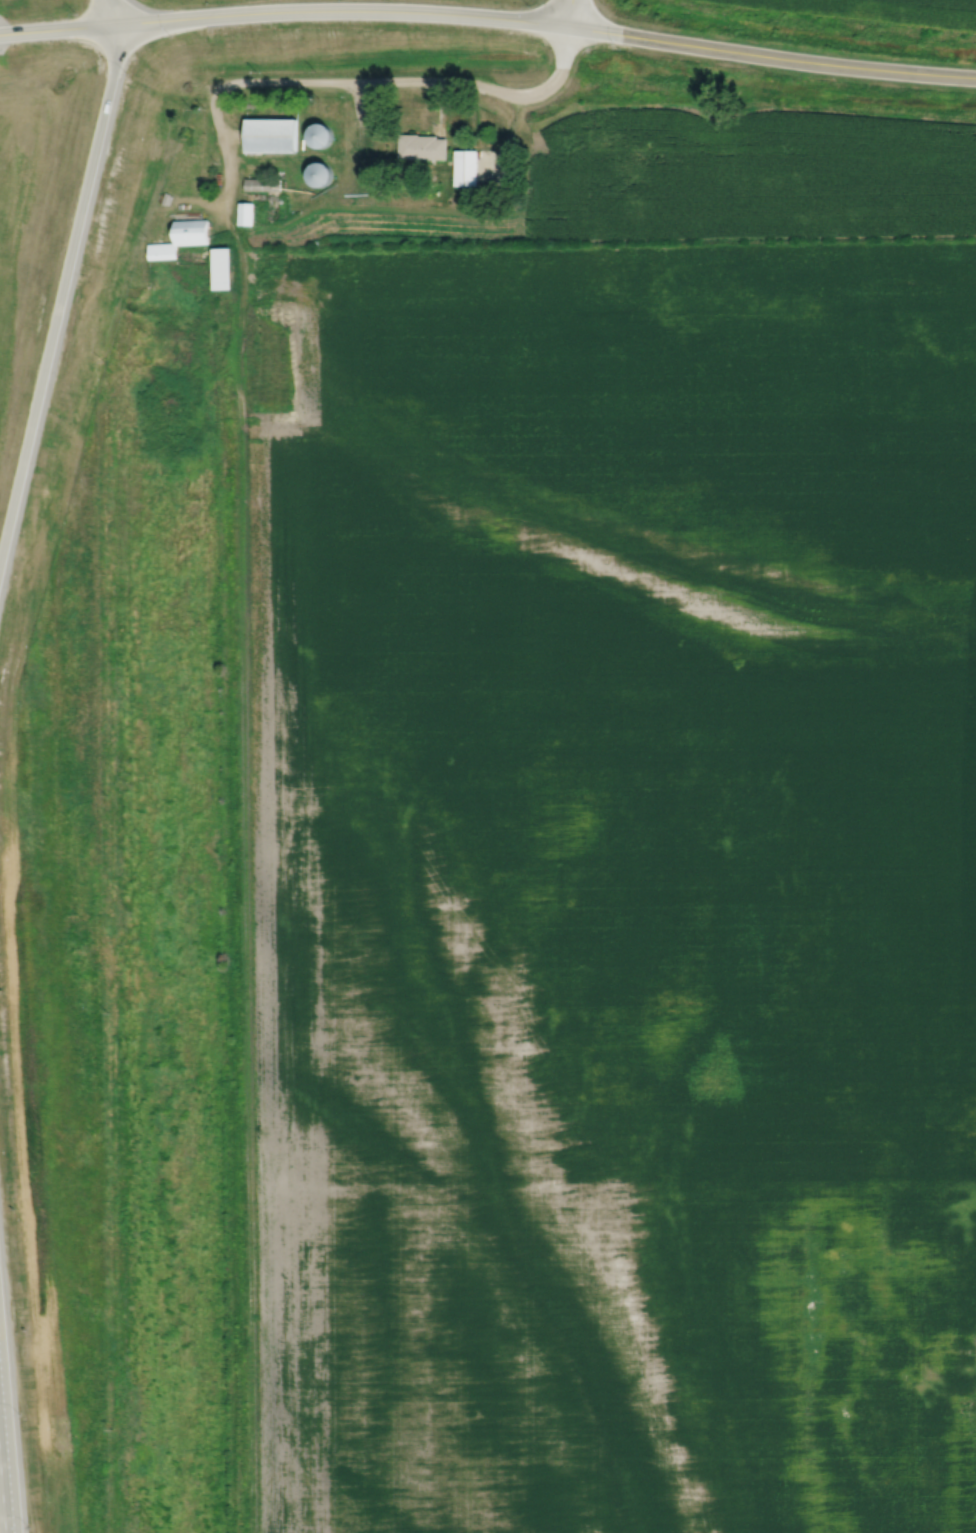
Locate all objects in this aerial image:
crop: (873, 11)
road: (570, 13)
road: (489, 16)
road: (340, 81)
building: (270, 135)
building: (319, 135)
building: (422, 147)
building: (466, 168)
building: (319, 174)
building: (262, 184)
building: (245, 214)
building: (192, 232)
building: (162, 251)
building: (224, 267)
road: (64, 278)
crop: (614, 884)
road: (7, 1501)
road: (2, 1505)

